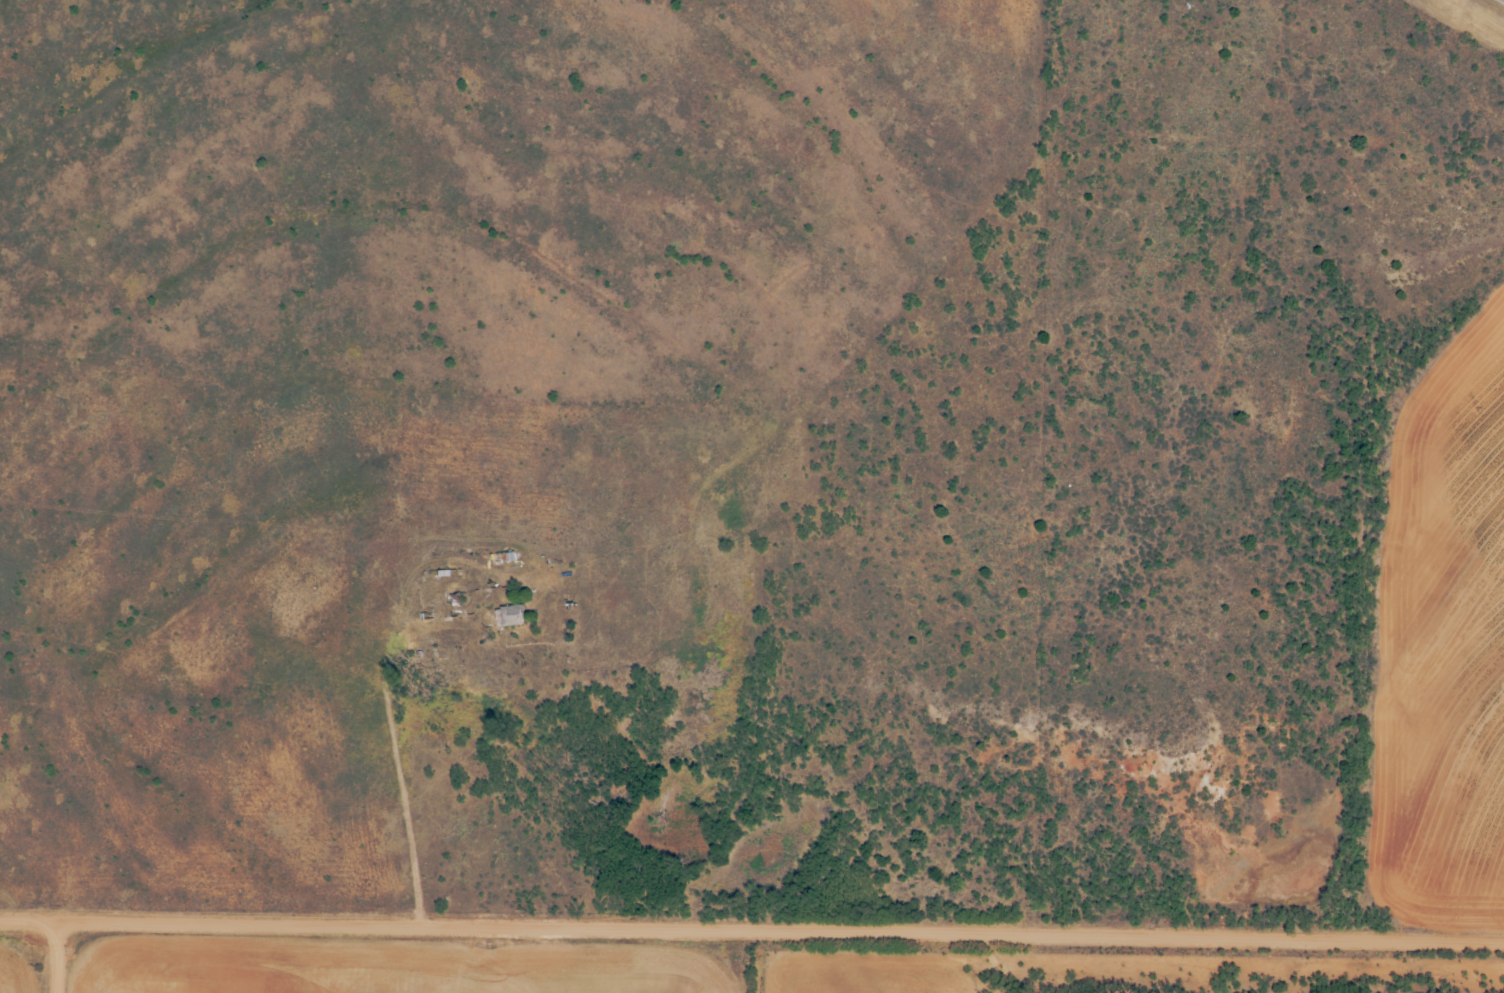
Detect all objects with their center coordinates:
road: (522, 480)
road: (752, 931)
road: (61, 957)
road: (898, 961)

